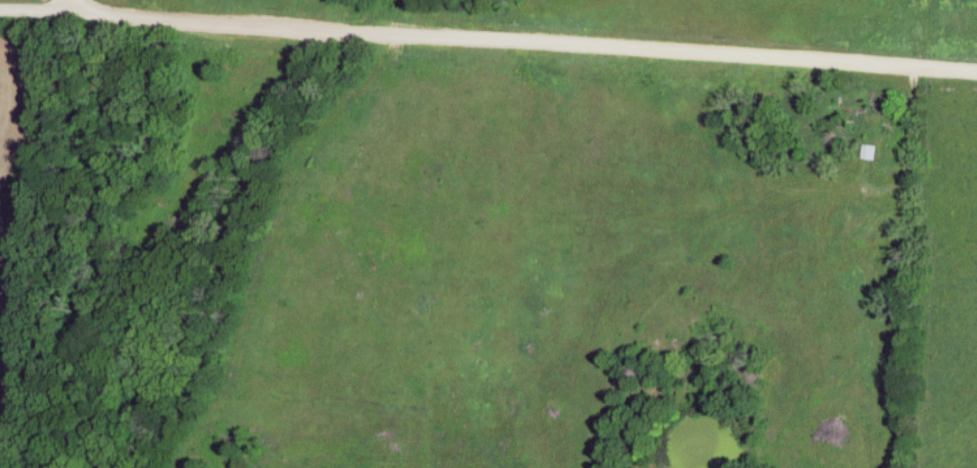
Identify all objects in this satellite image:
road: (69, 3)
road: (34, 4)
road: (522, 42)
road: (915, 137)
building: (868, 153)

